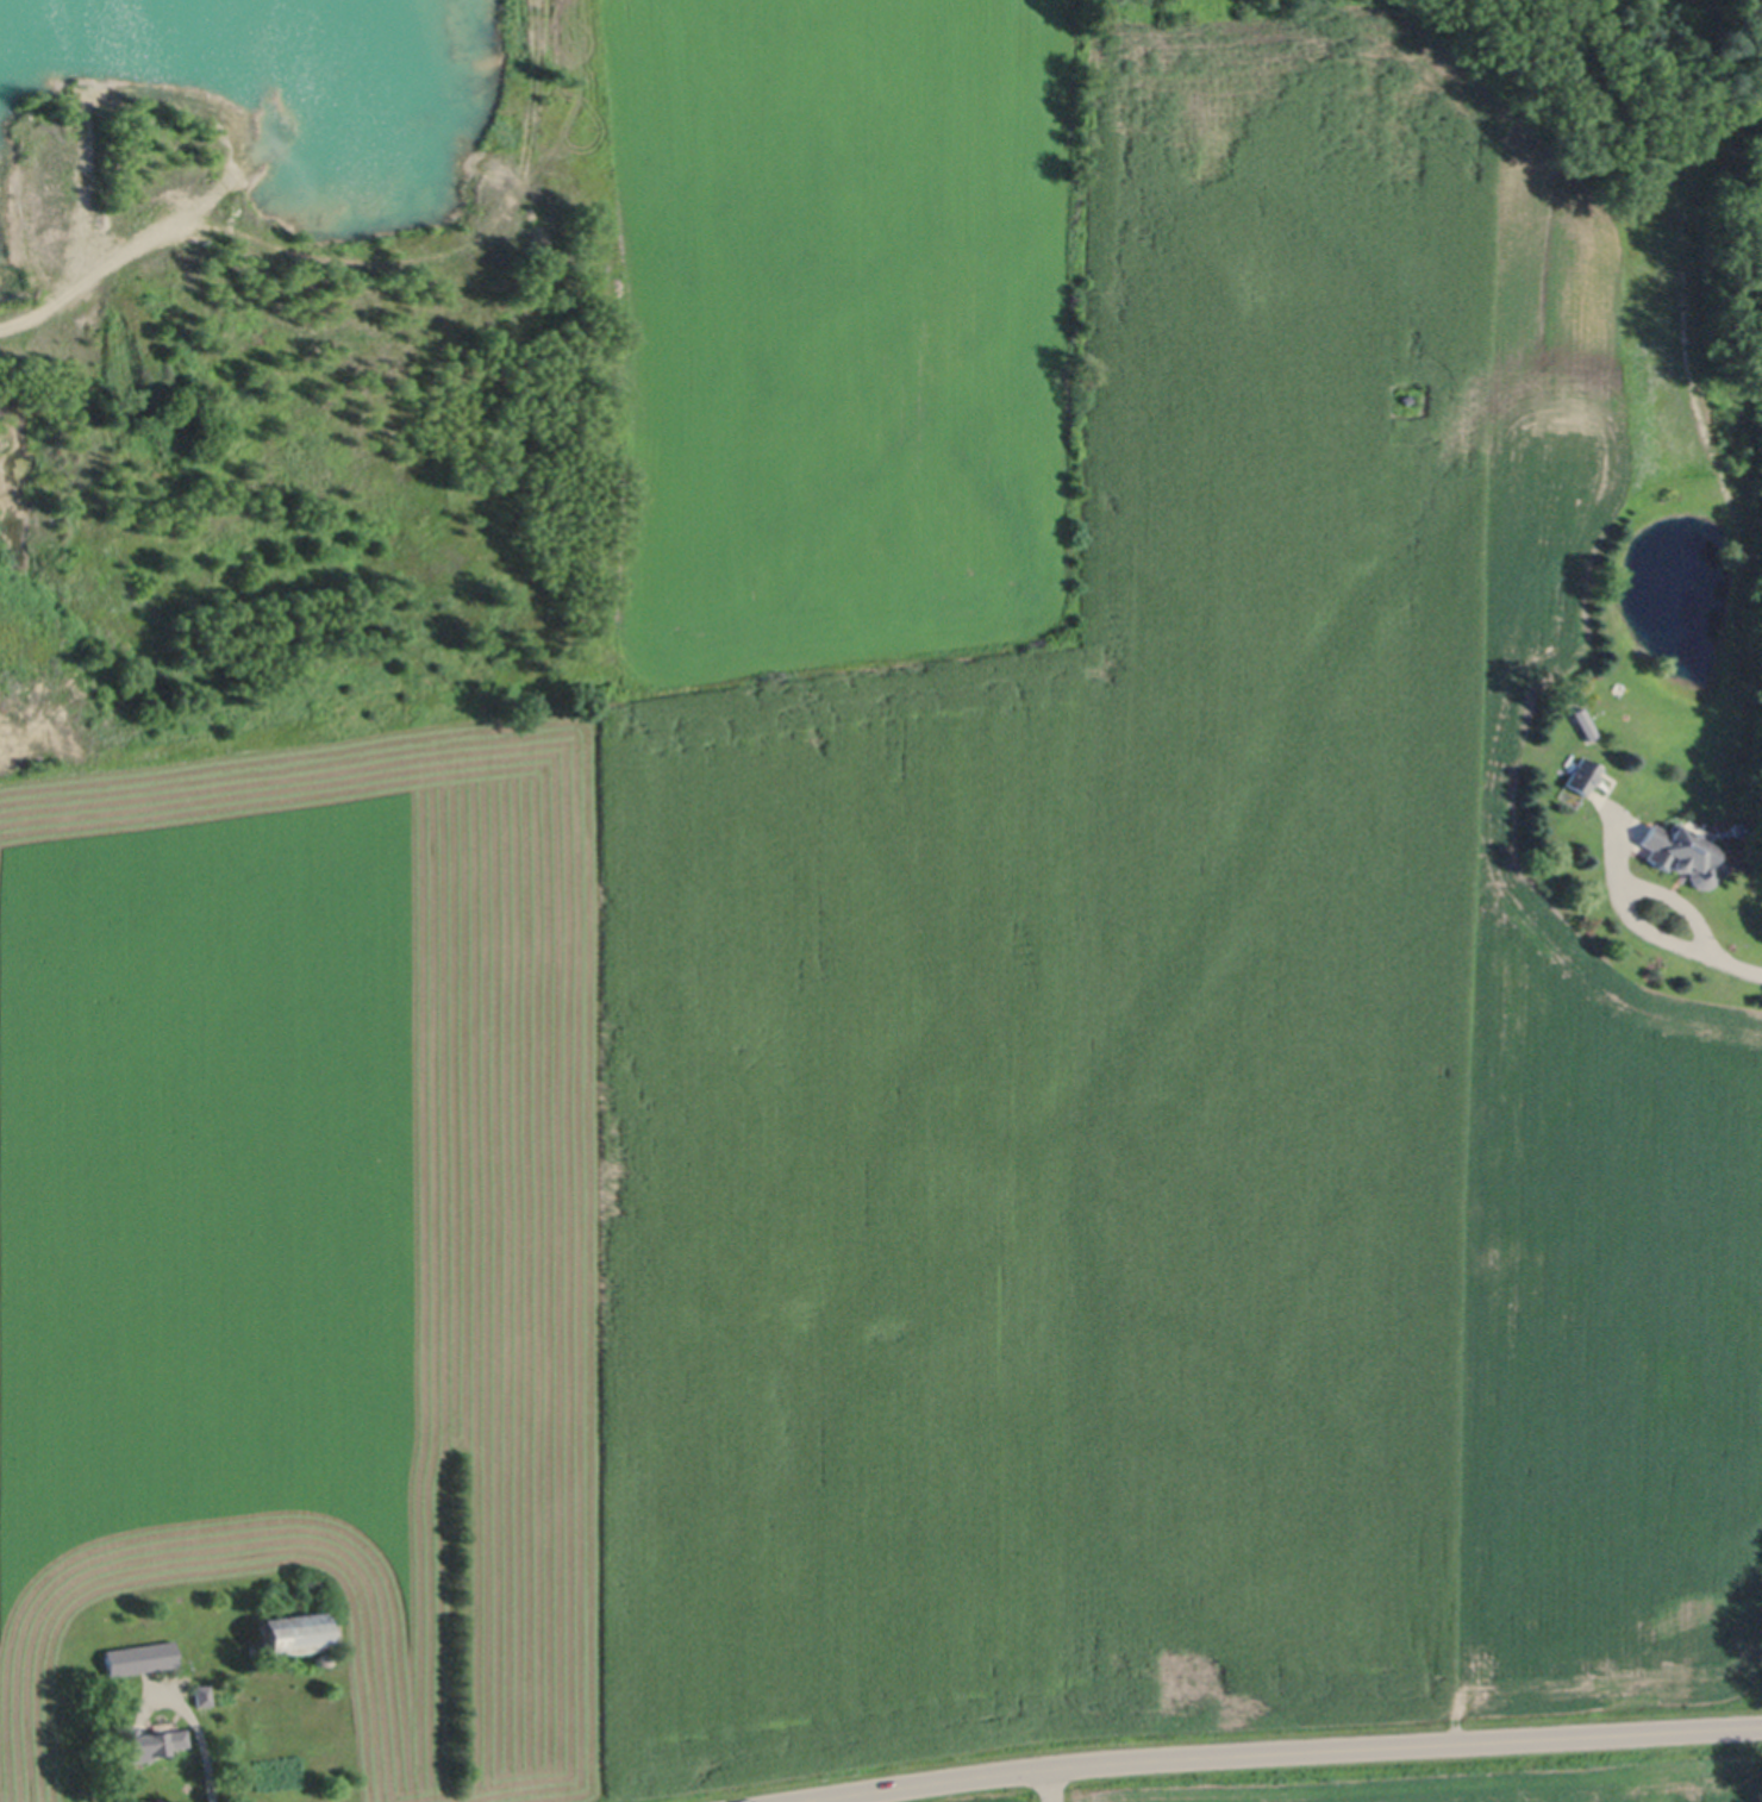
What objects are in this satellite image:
quarry: (283, 375)
building: (1583, 774)
building: (1682, 852)
road: (1713, 957)
building: (294, 1634)
building: (140, 1657)
building: (321, 1659)
building: (204, 1692)
building: (152, 1741)
road: (207, 1745)
road: (1274, 1754)
road: (1048, 1784)

